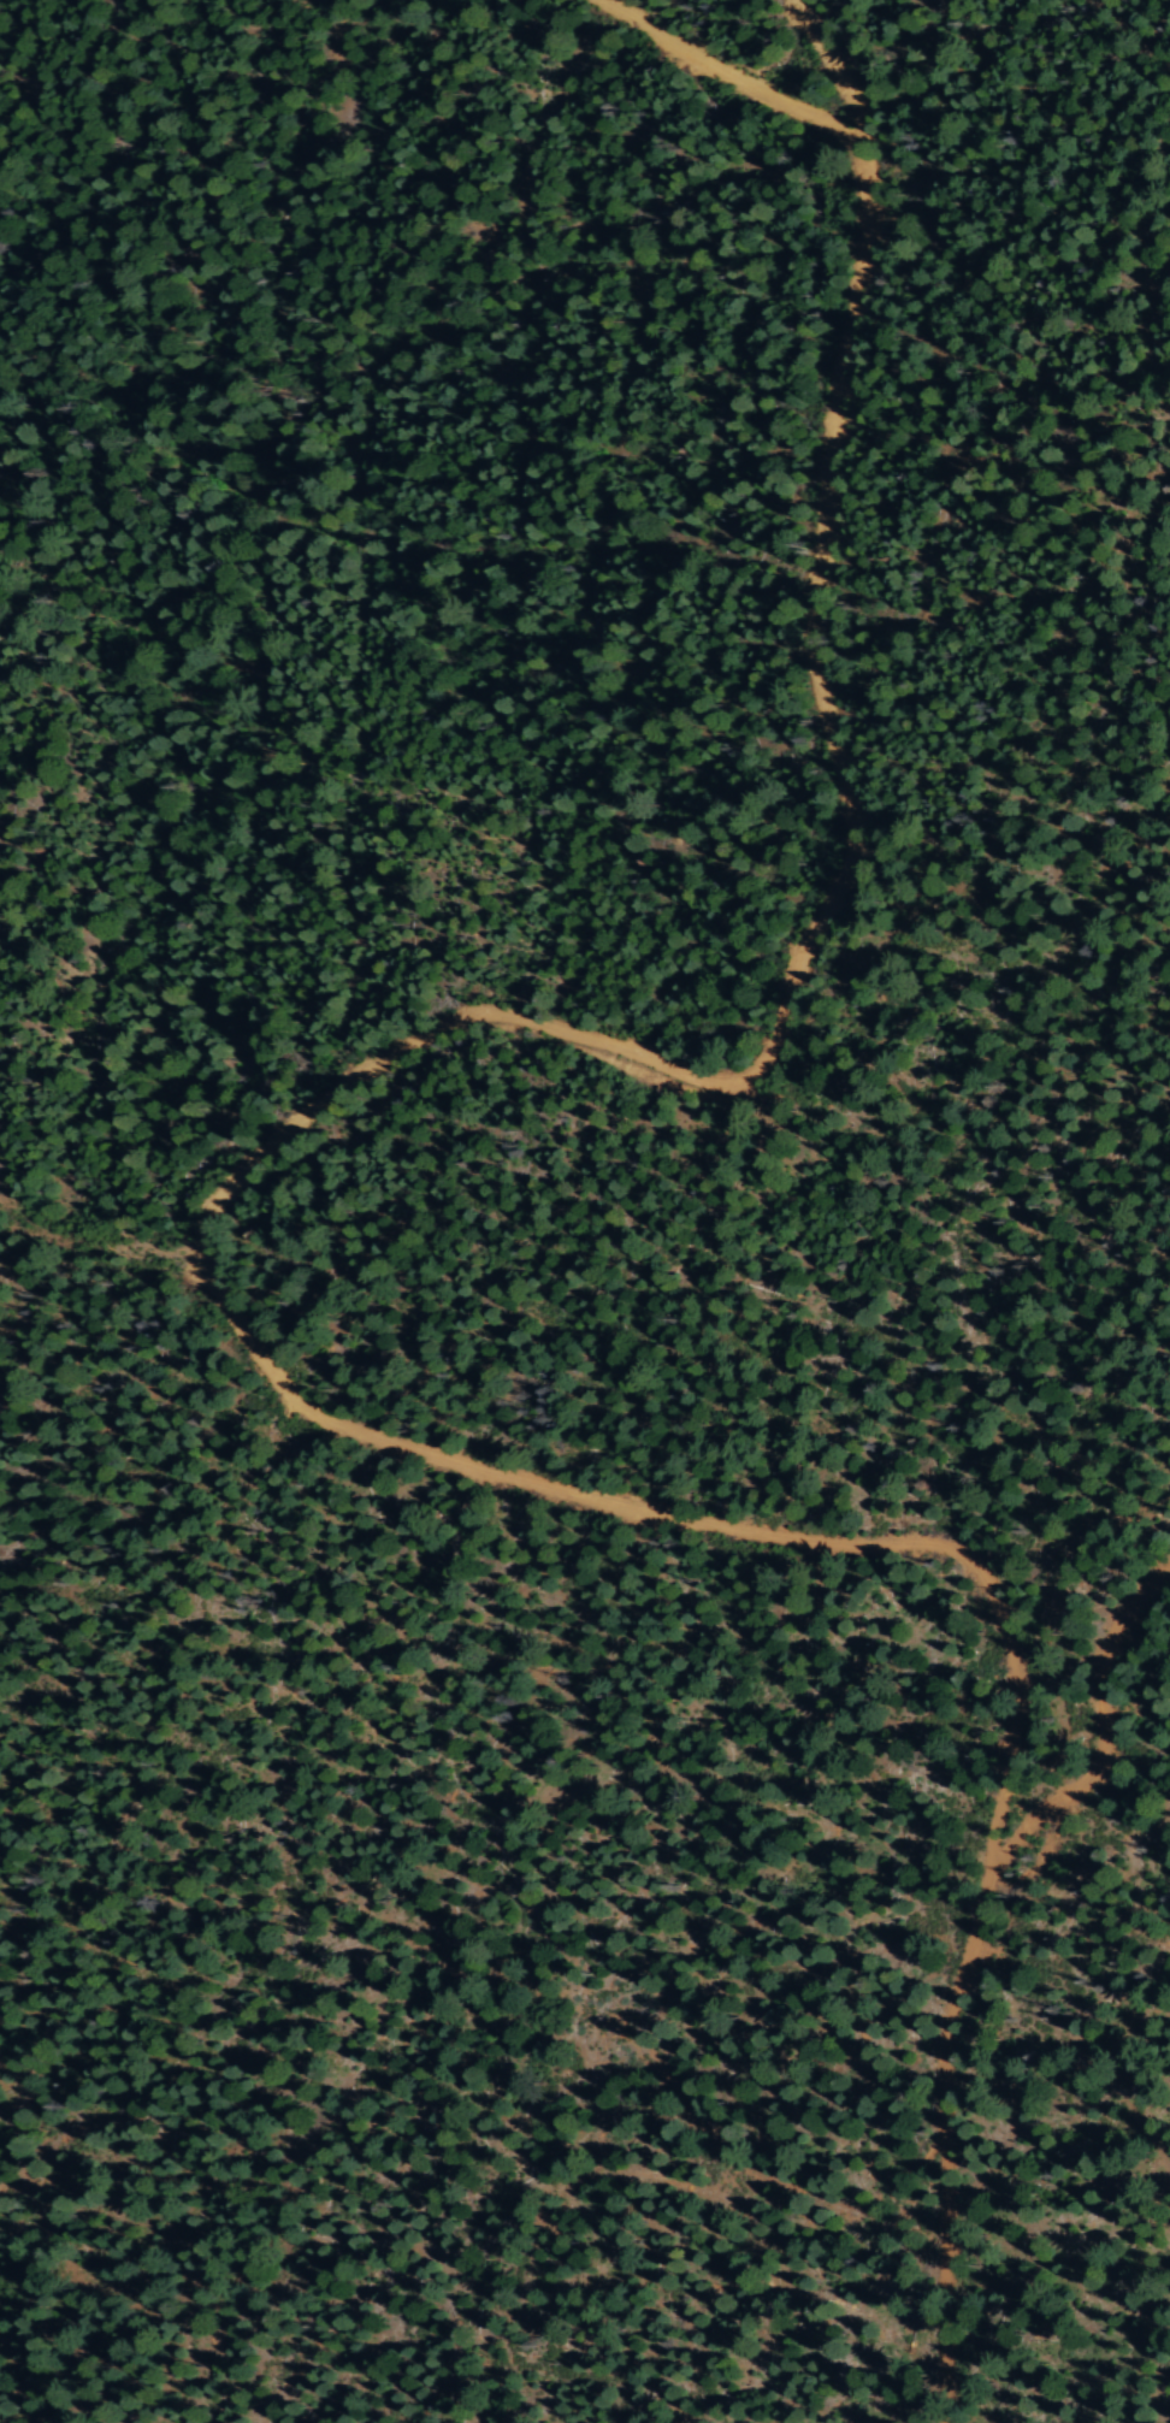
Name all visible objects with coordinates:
road: (1026, 1227)
road: (593, 1495)

